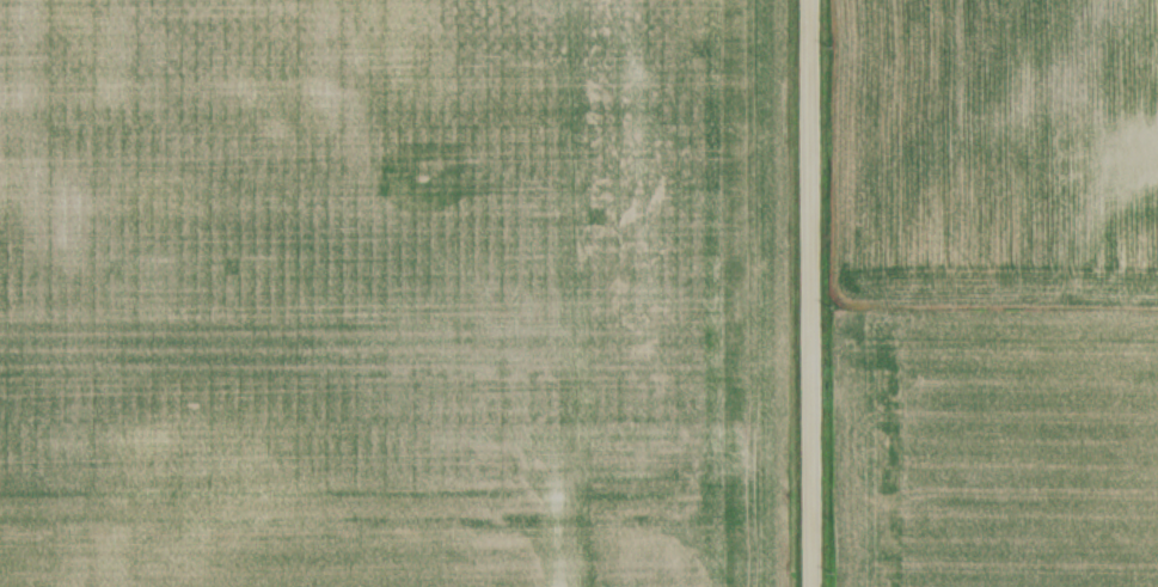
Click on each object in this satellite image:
road: (810, 293)

